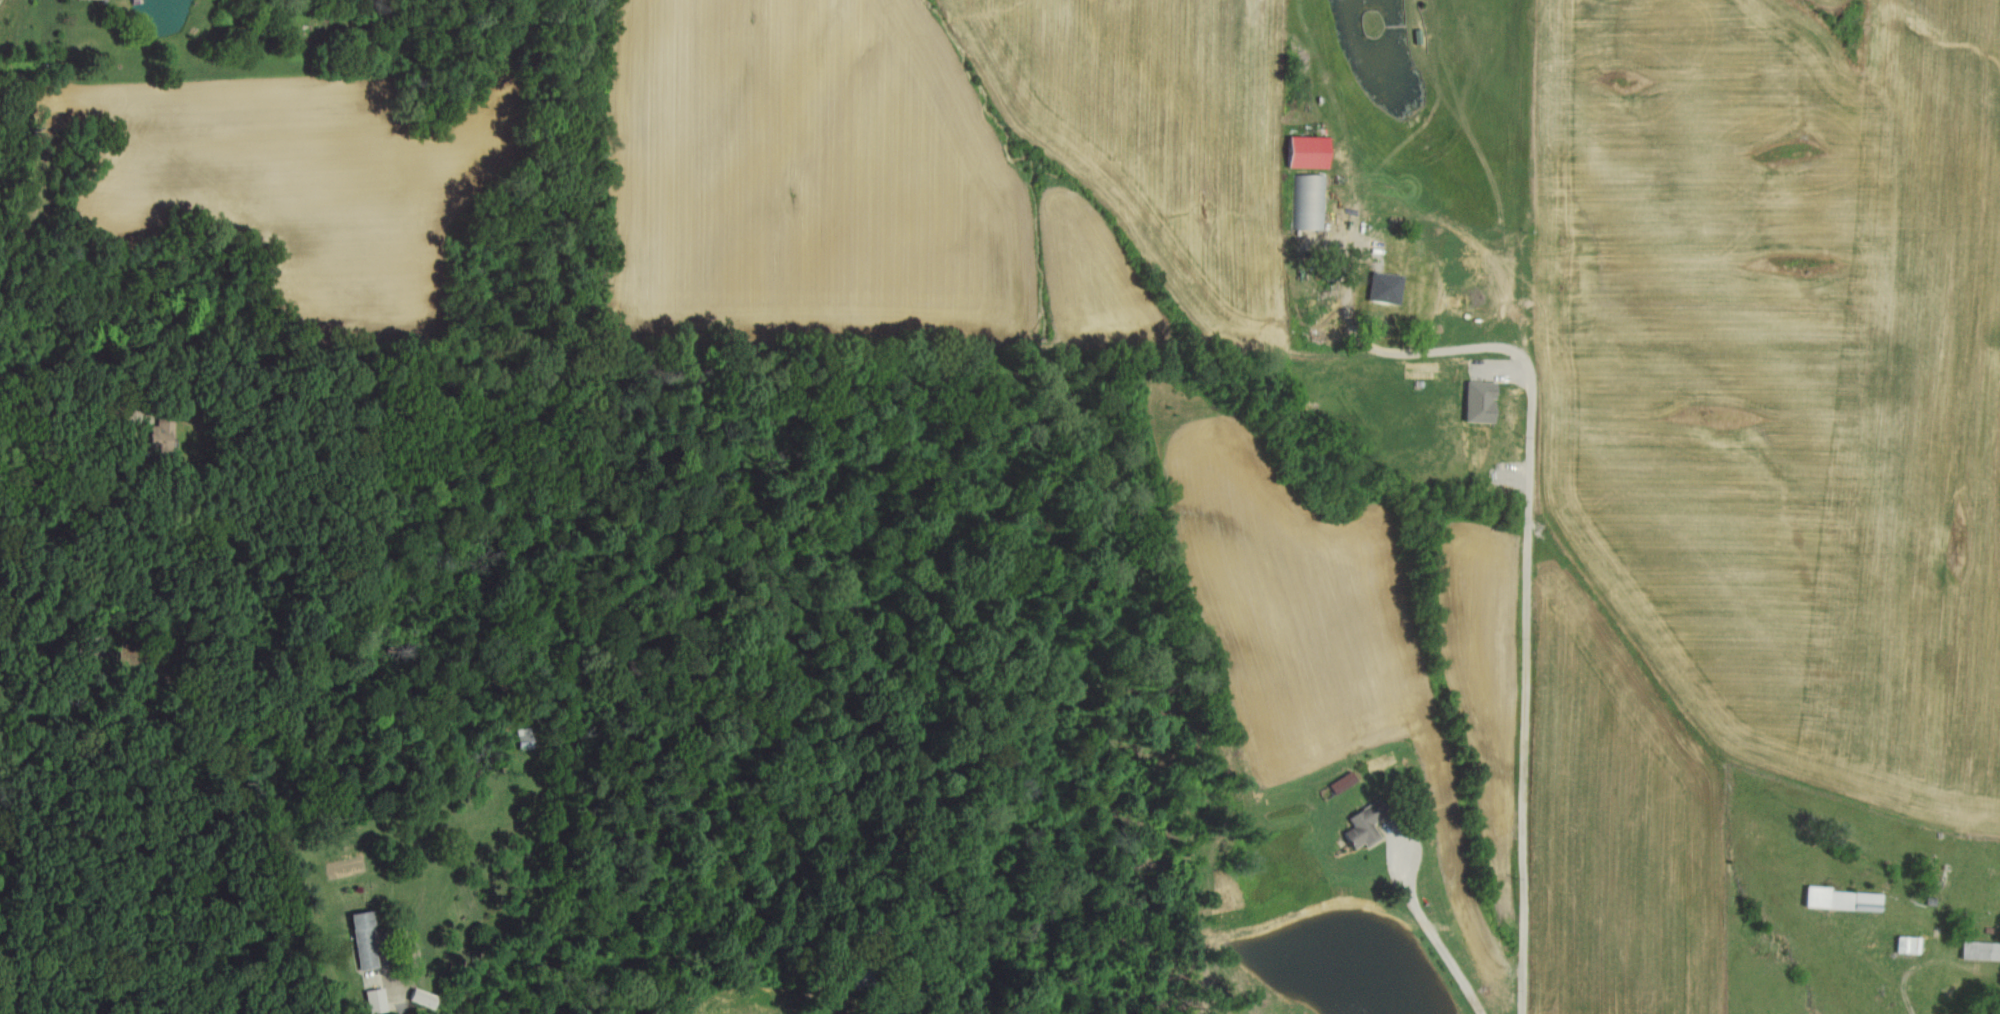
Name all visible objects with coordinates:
road: (0, 0)
building: (1308, 151)
building: (1310, 201)
building: (1387, 287)
road: (72, 398)
building: (1481, 402)
road: (1528, 549)
road: (51, 580)
building: (1365, 826)
building: (1844, 900)
road: (1431, 930)
building: (363, 933)
building: (1981, 950)
road: (390, 973)
building: (423, 998)
building: (377, 1001)

